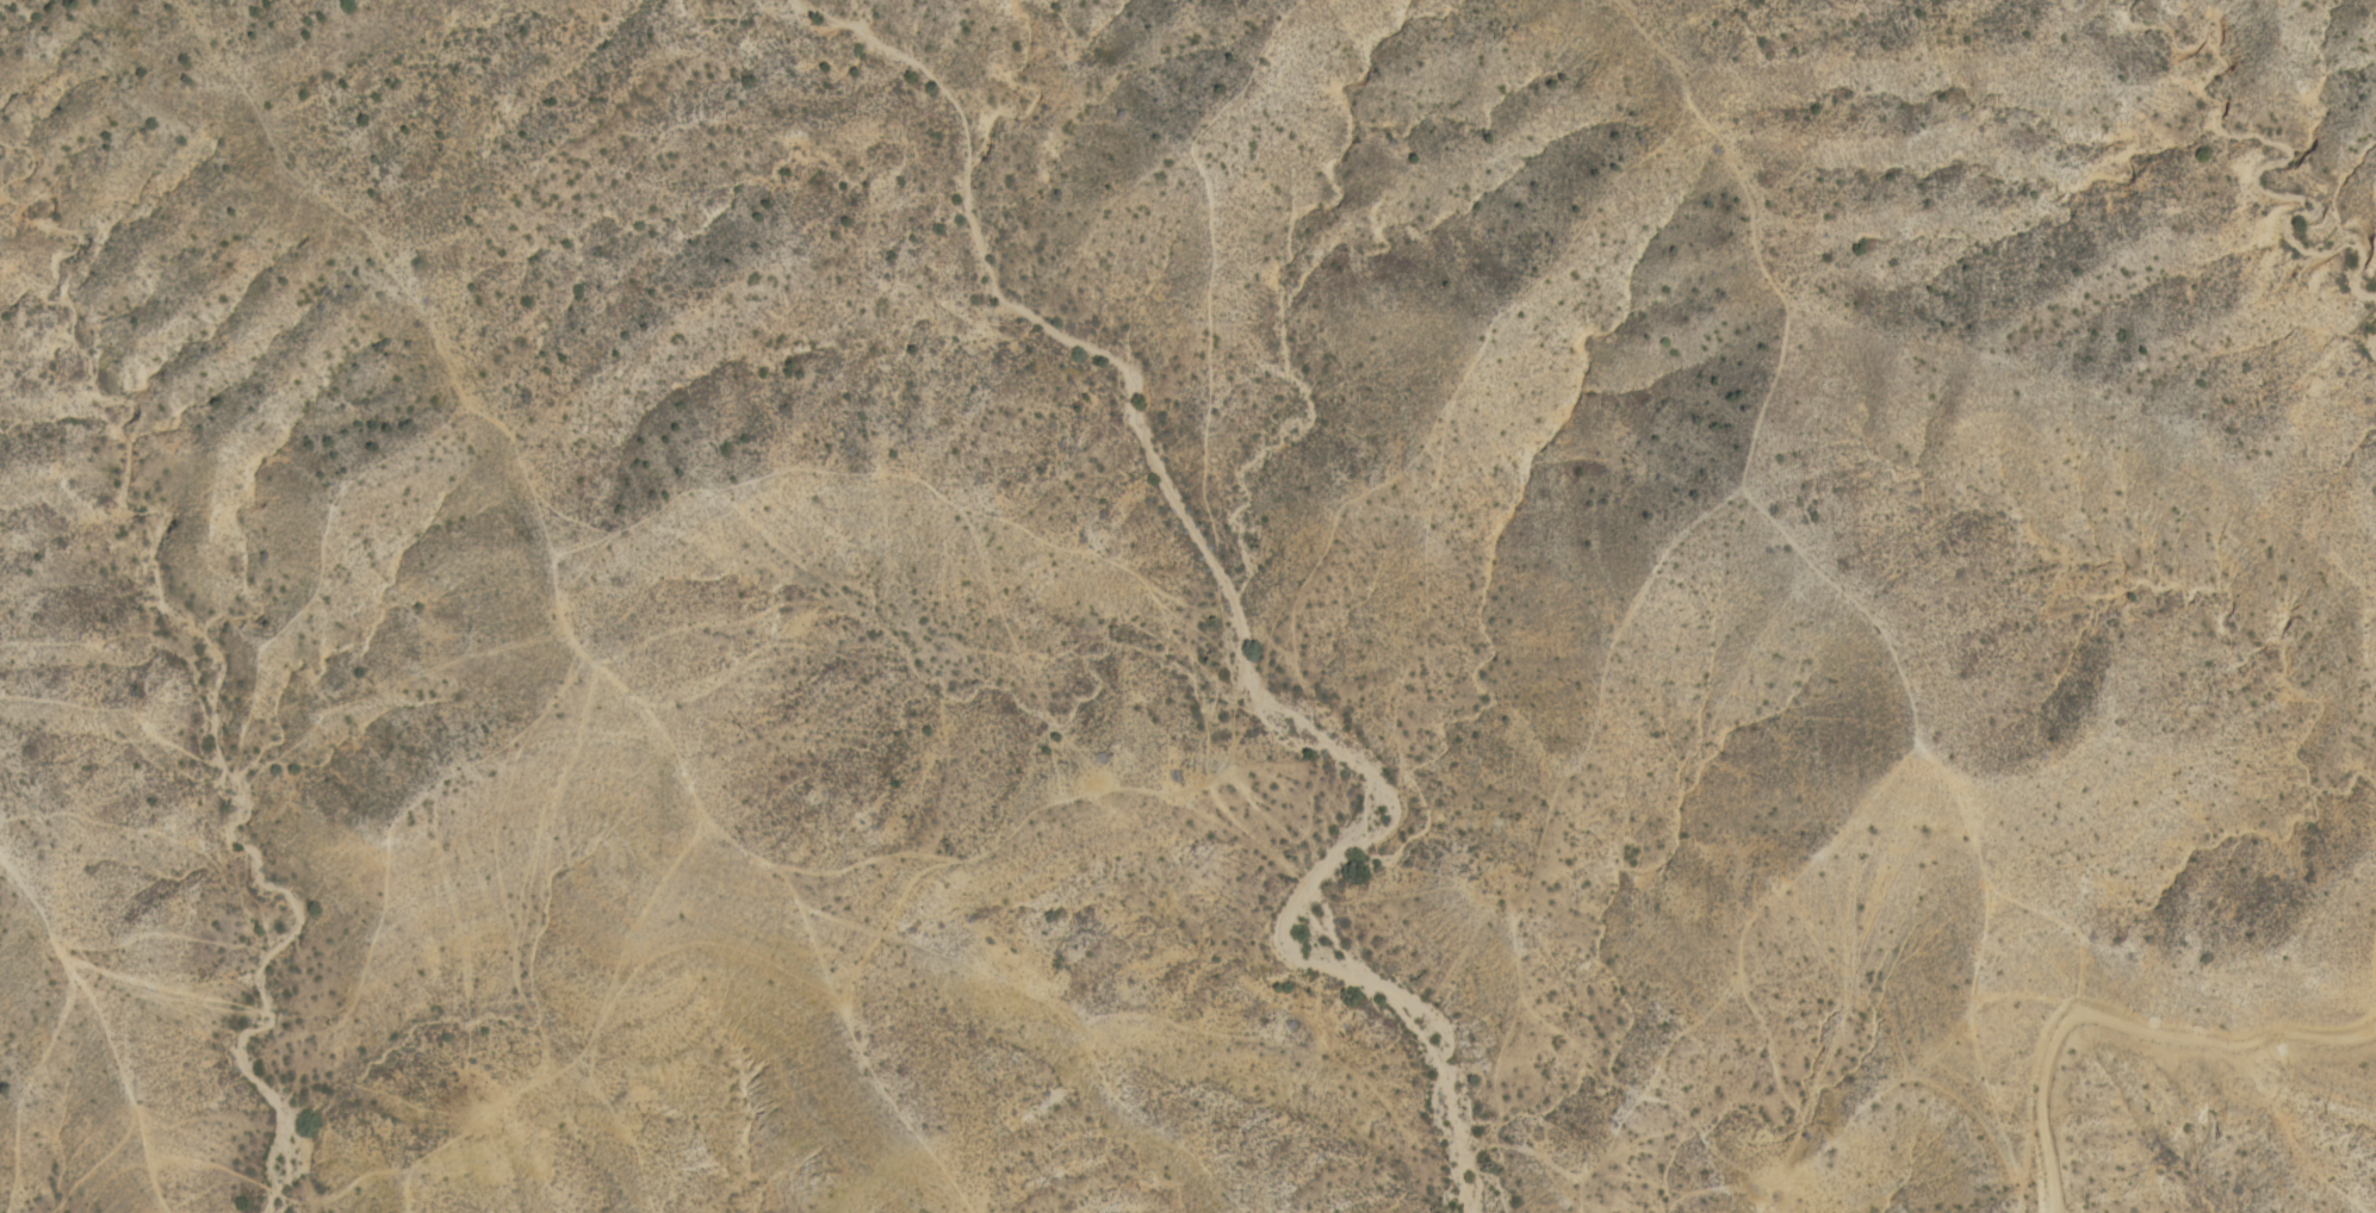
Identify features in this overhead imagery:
road: (2133, 1028)

